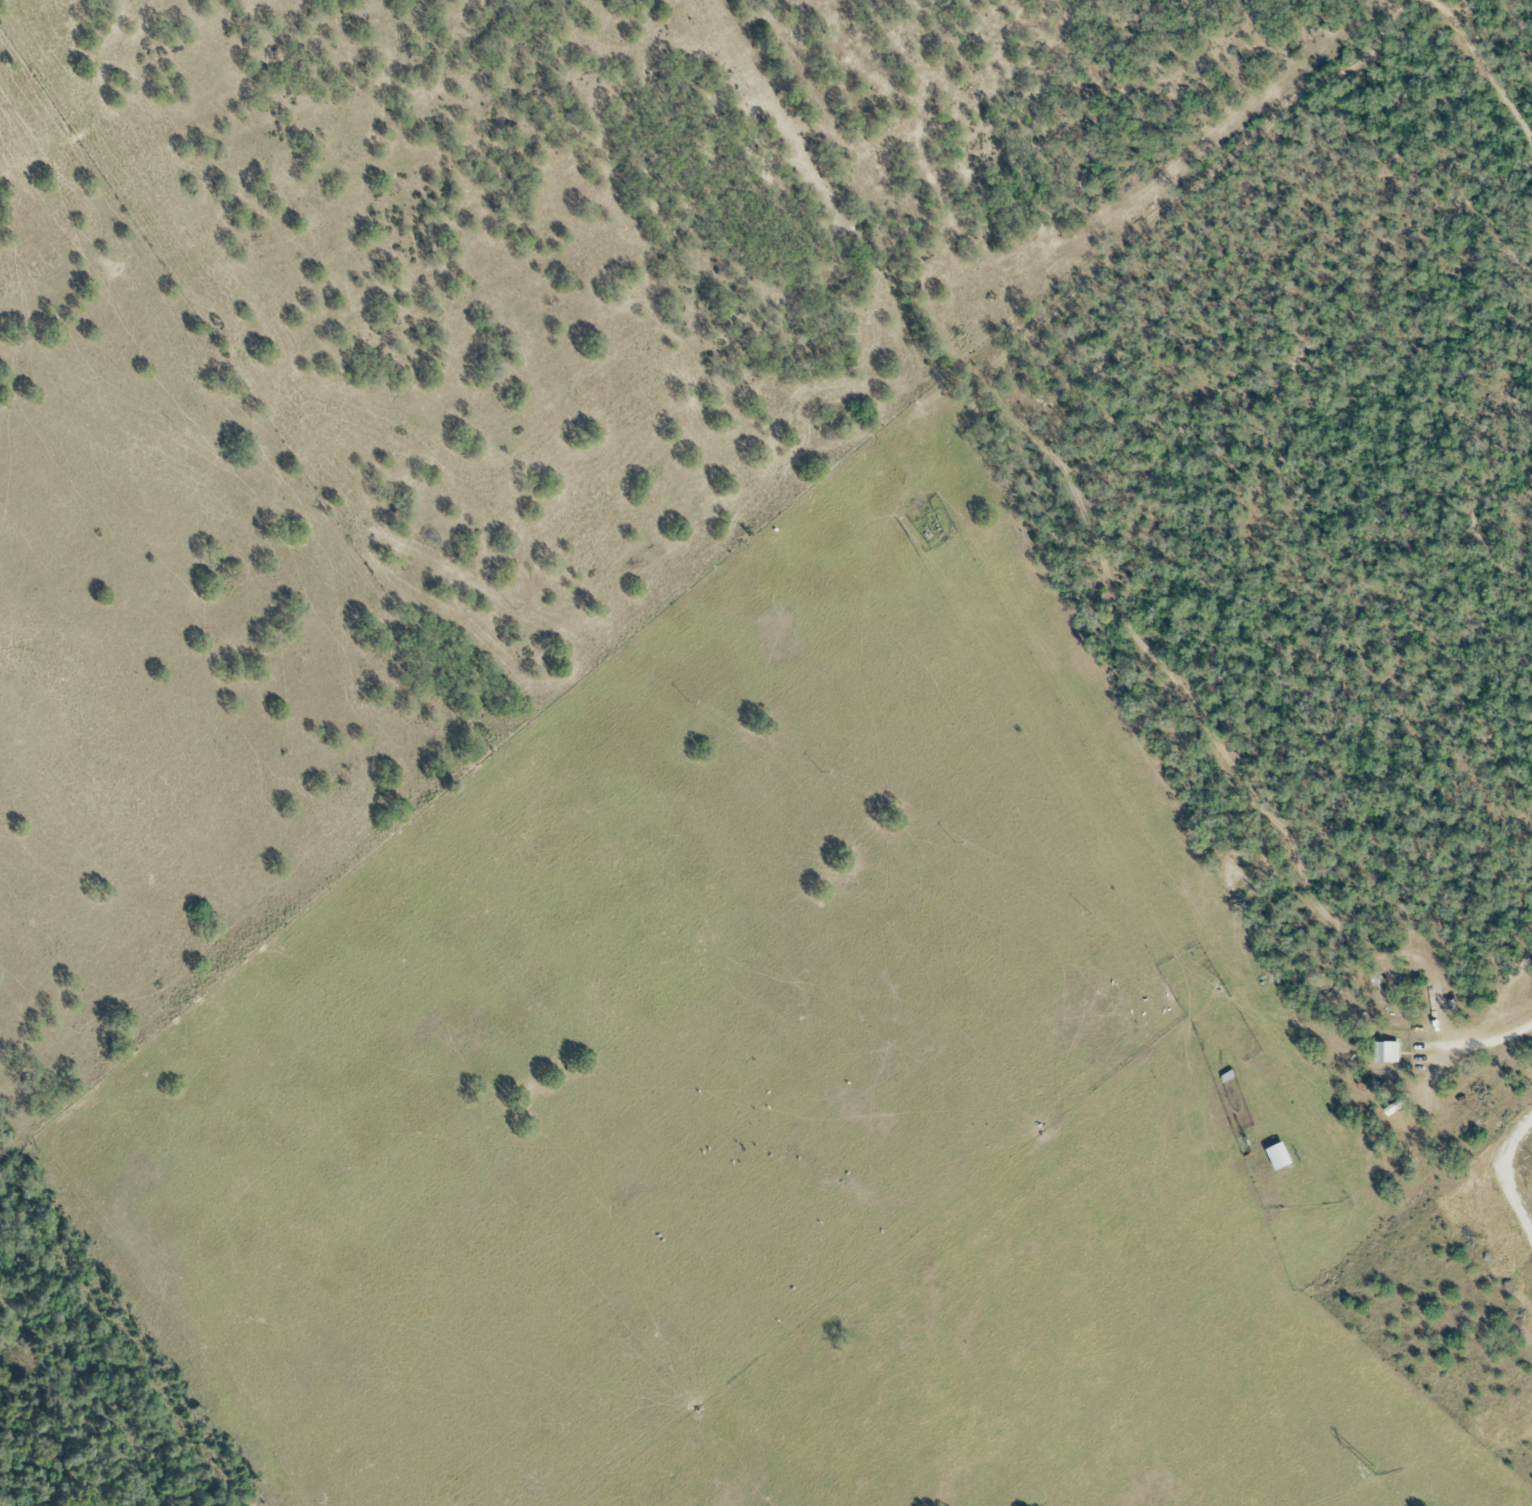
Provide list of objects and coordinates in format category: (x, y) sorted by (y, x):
road: (1487, 1040)
building: (1383, 1053)
road: (1504, 1172)
river: (41, 1443)
power tower: (1373, 1470)

